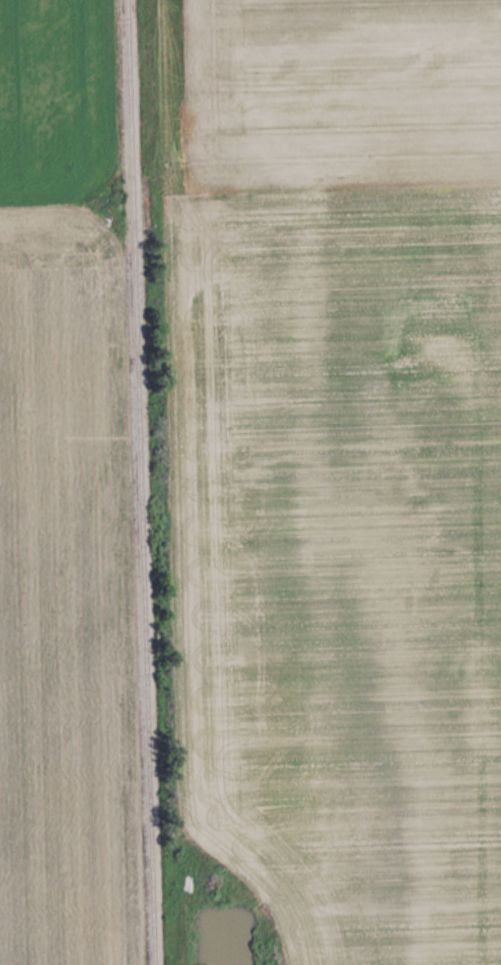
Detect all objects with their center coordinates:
railway: (142, 482)

